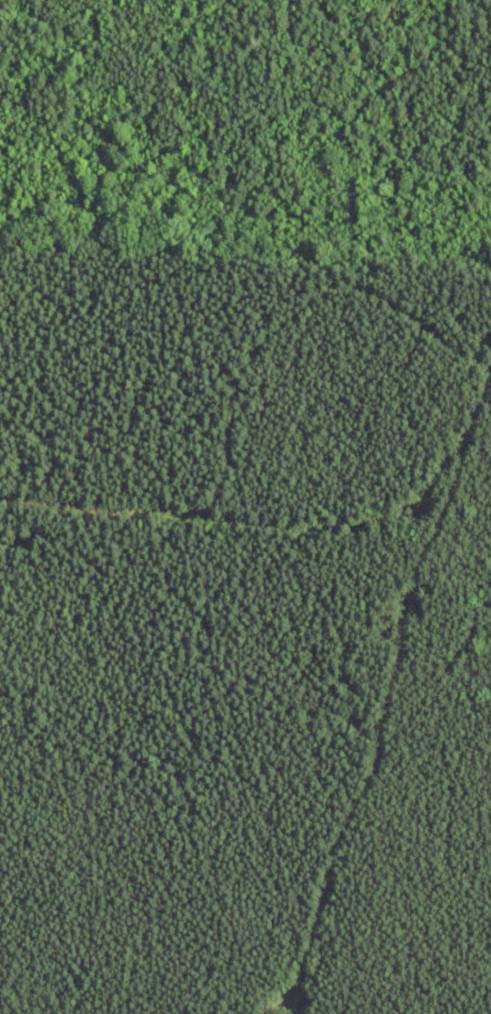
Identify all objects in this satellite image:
road: (391, 703)

